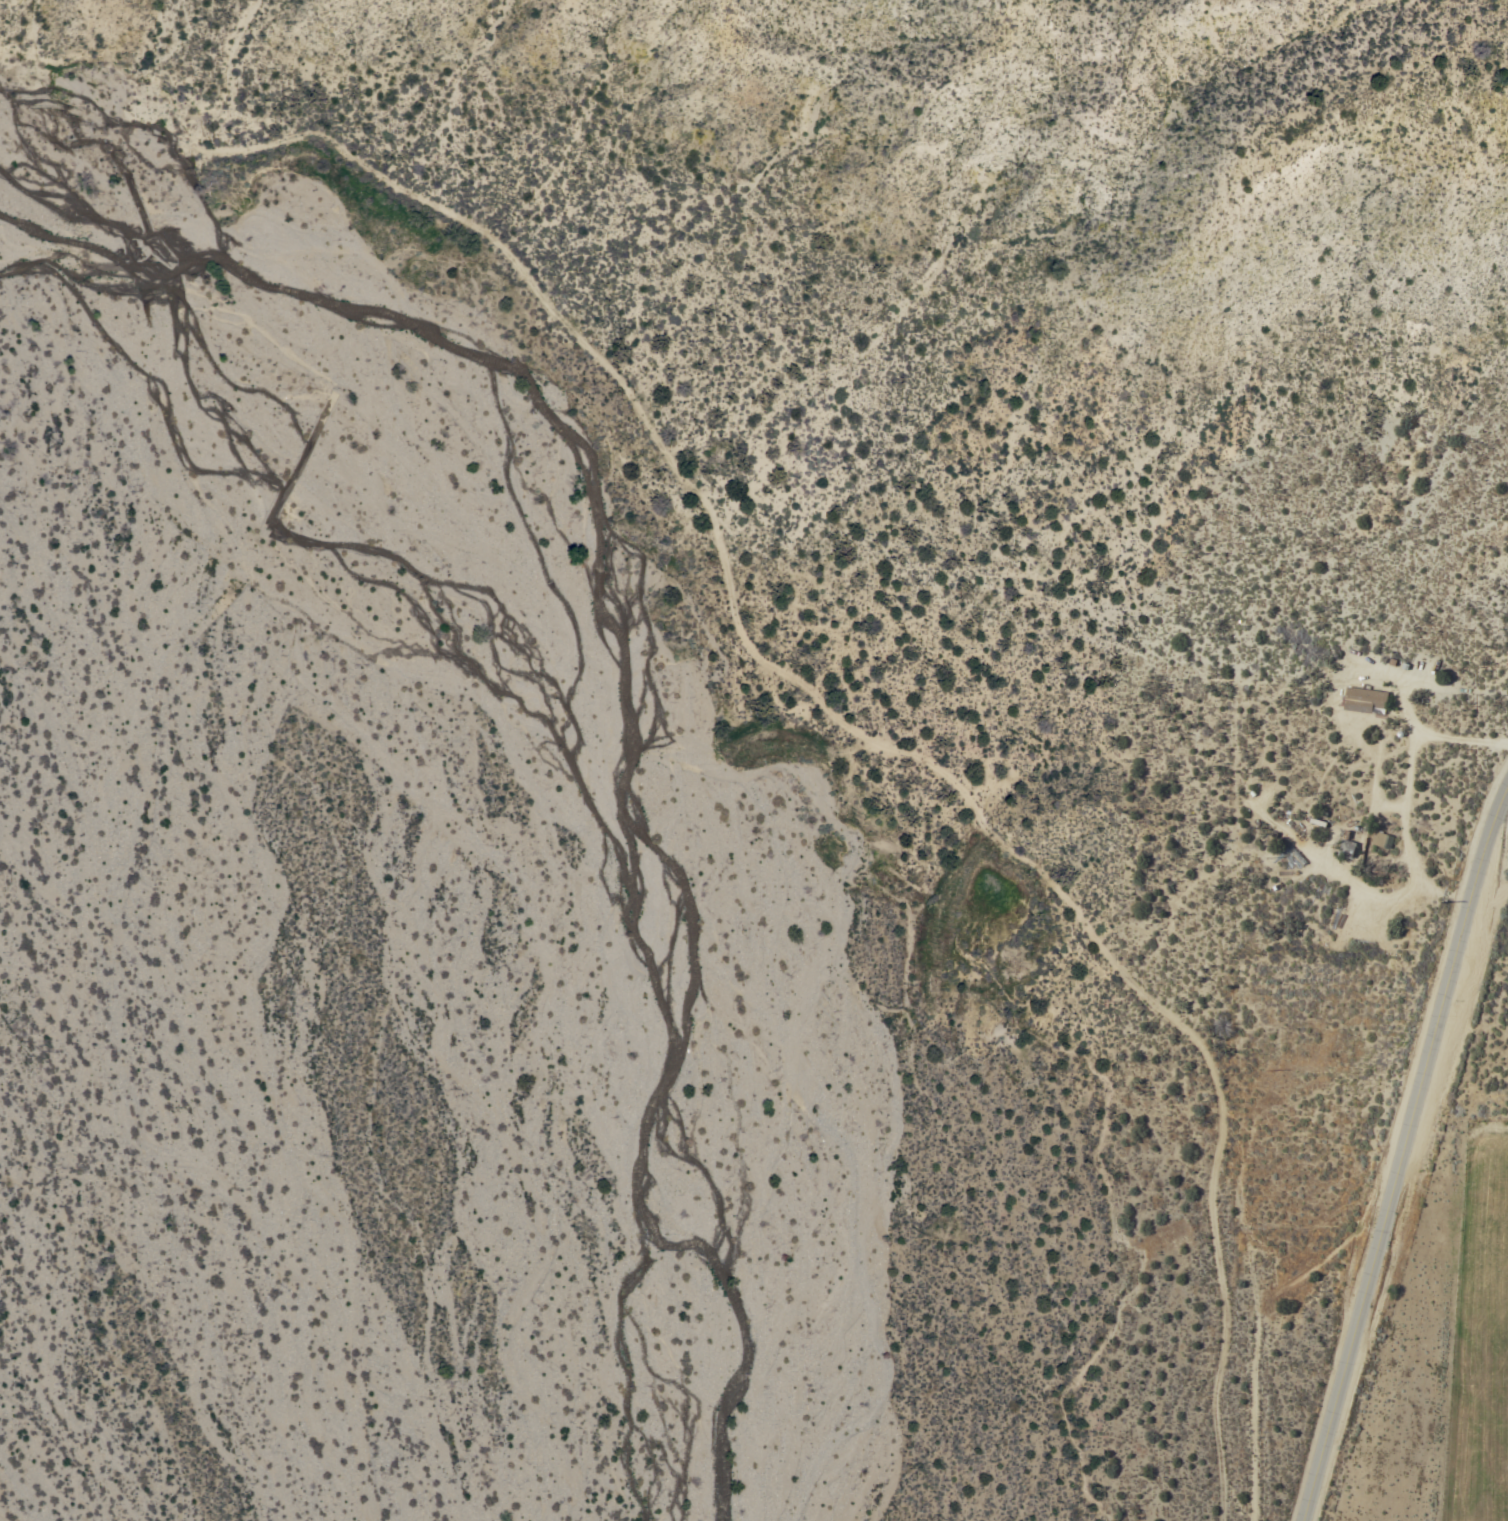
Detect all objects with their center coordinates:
building: (1366, 700)
road: (1431, 736)
road: (1407, 833)
building: (1346, 834)
building: (1383, 839)
building: (1348, 849)
road: (1404, 1154)
crop: (1488, 1350)

